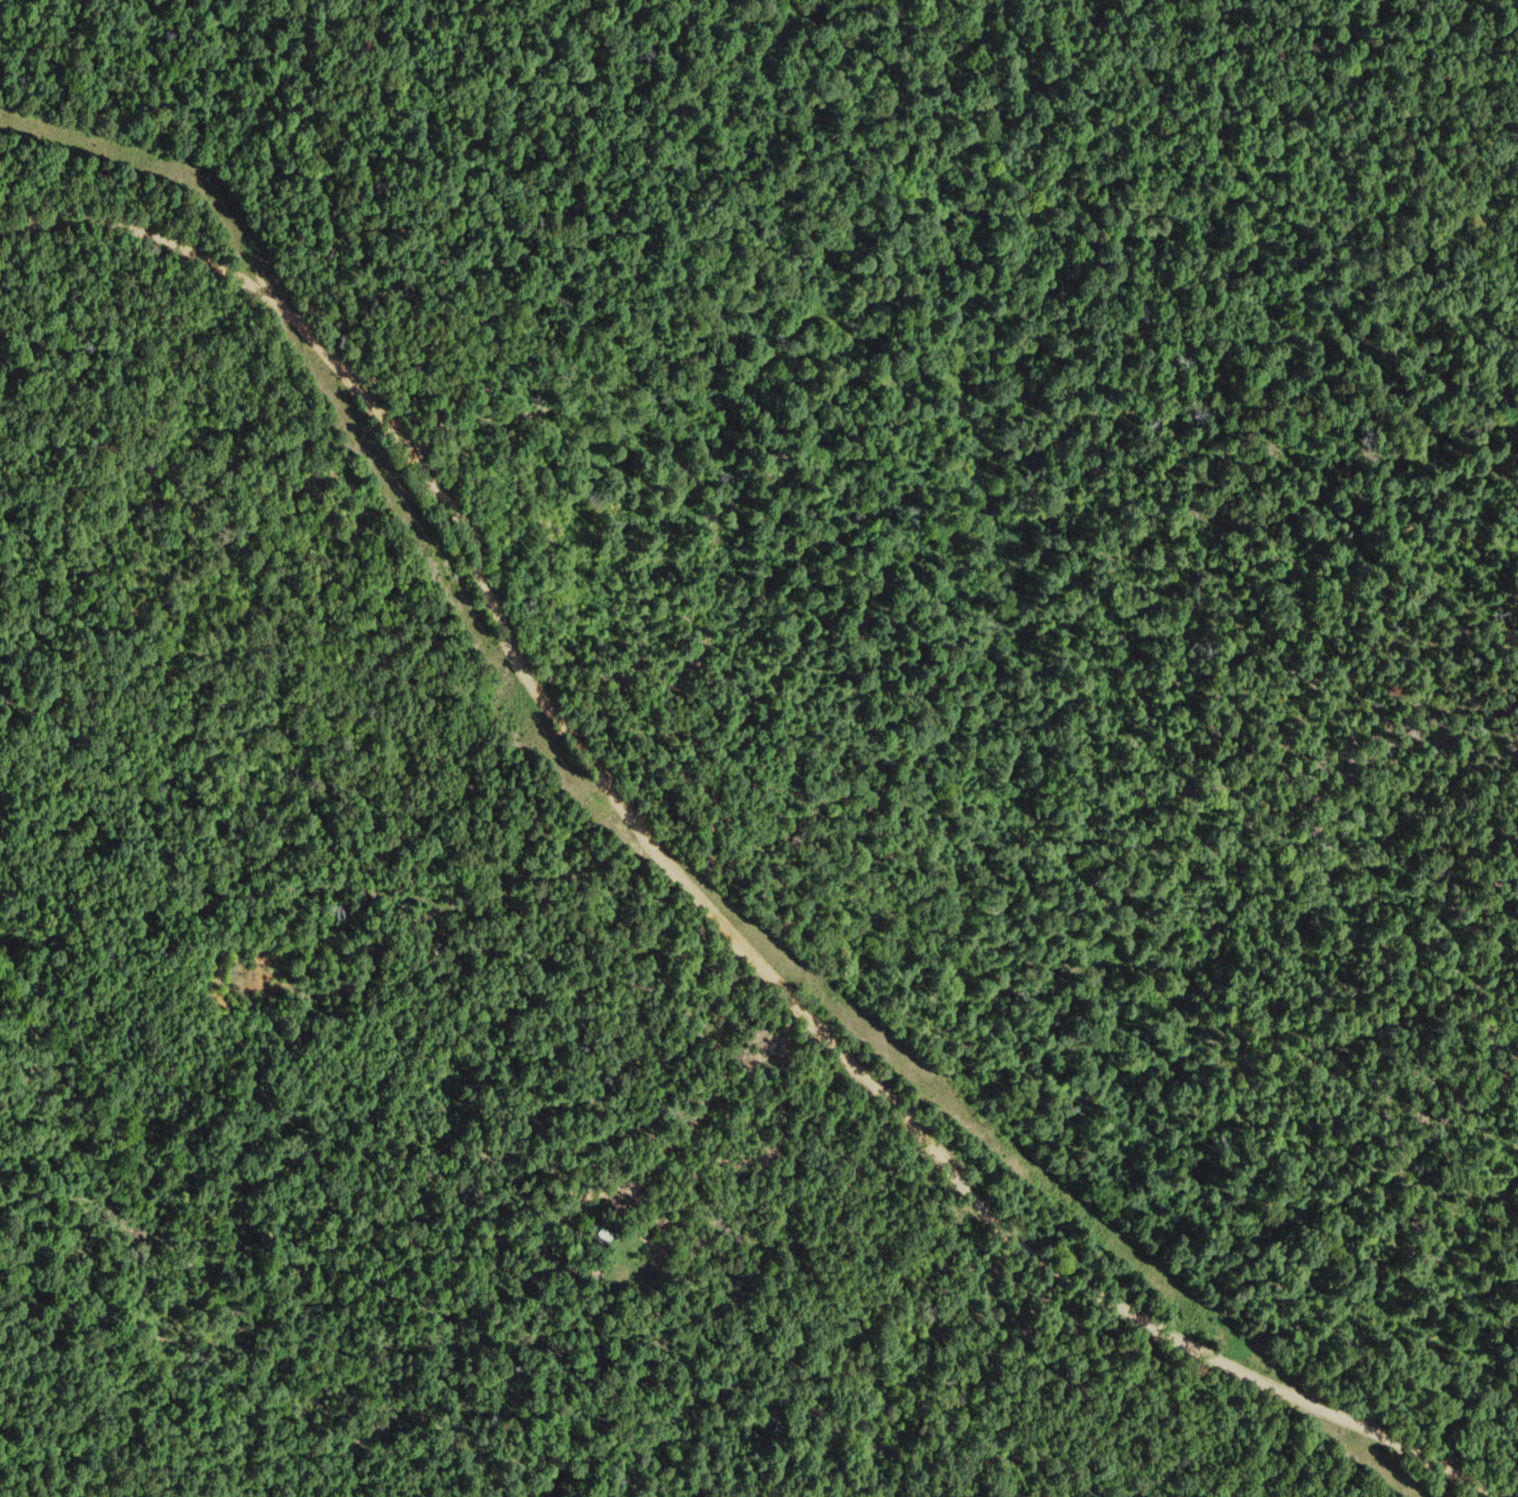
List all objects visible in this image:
road: (688, 891)

